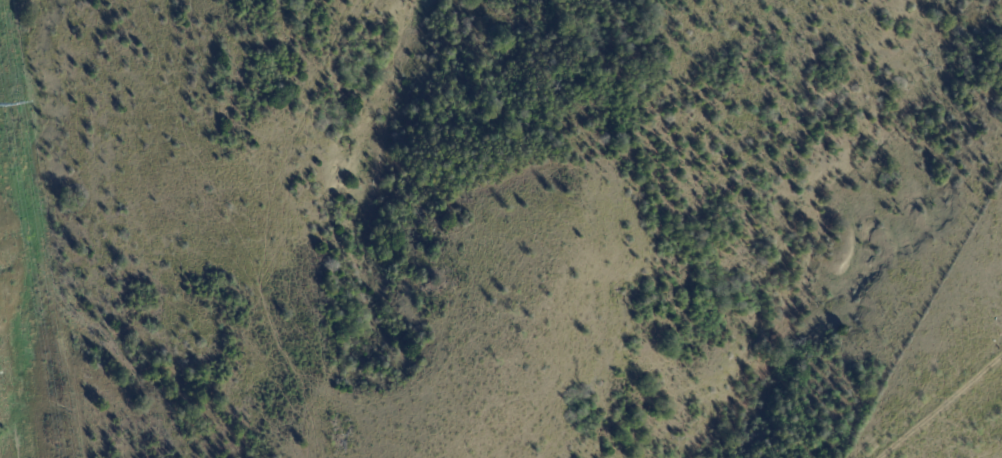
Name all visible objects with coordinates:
road: (939, 405)

